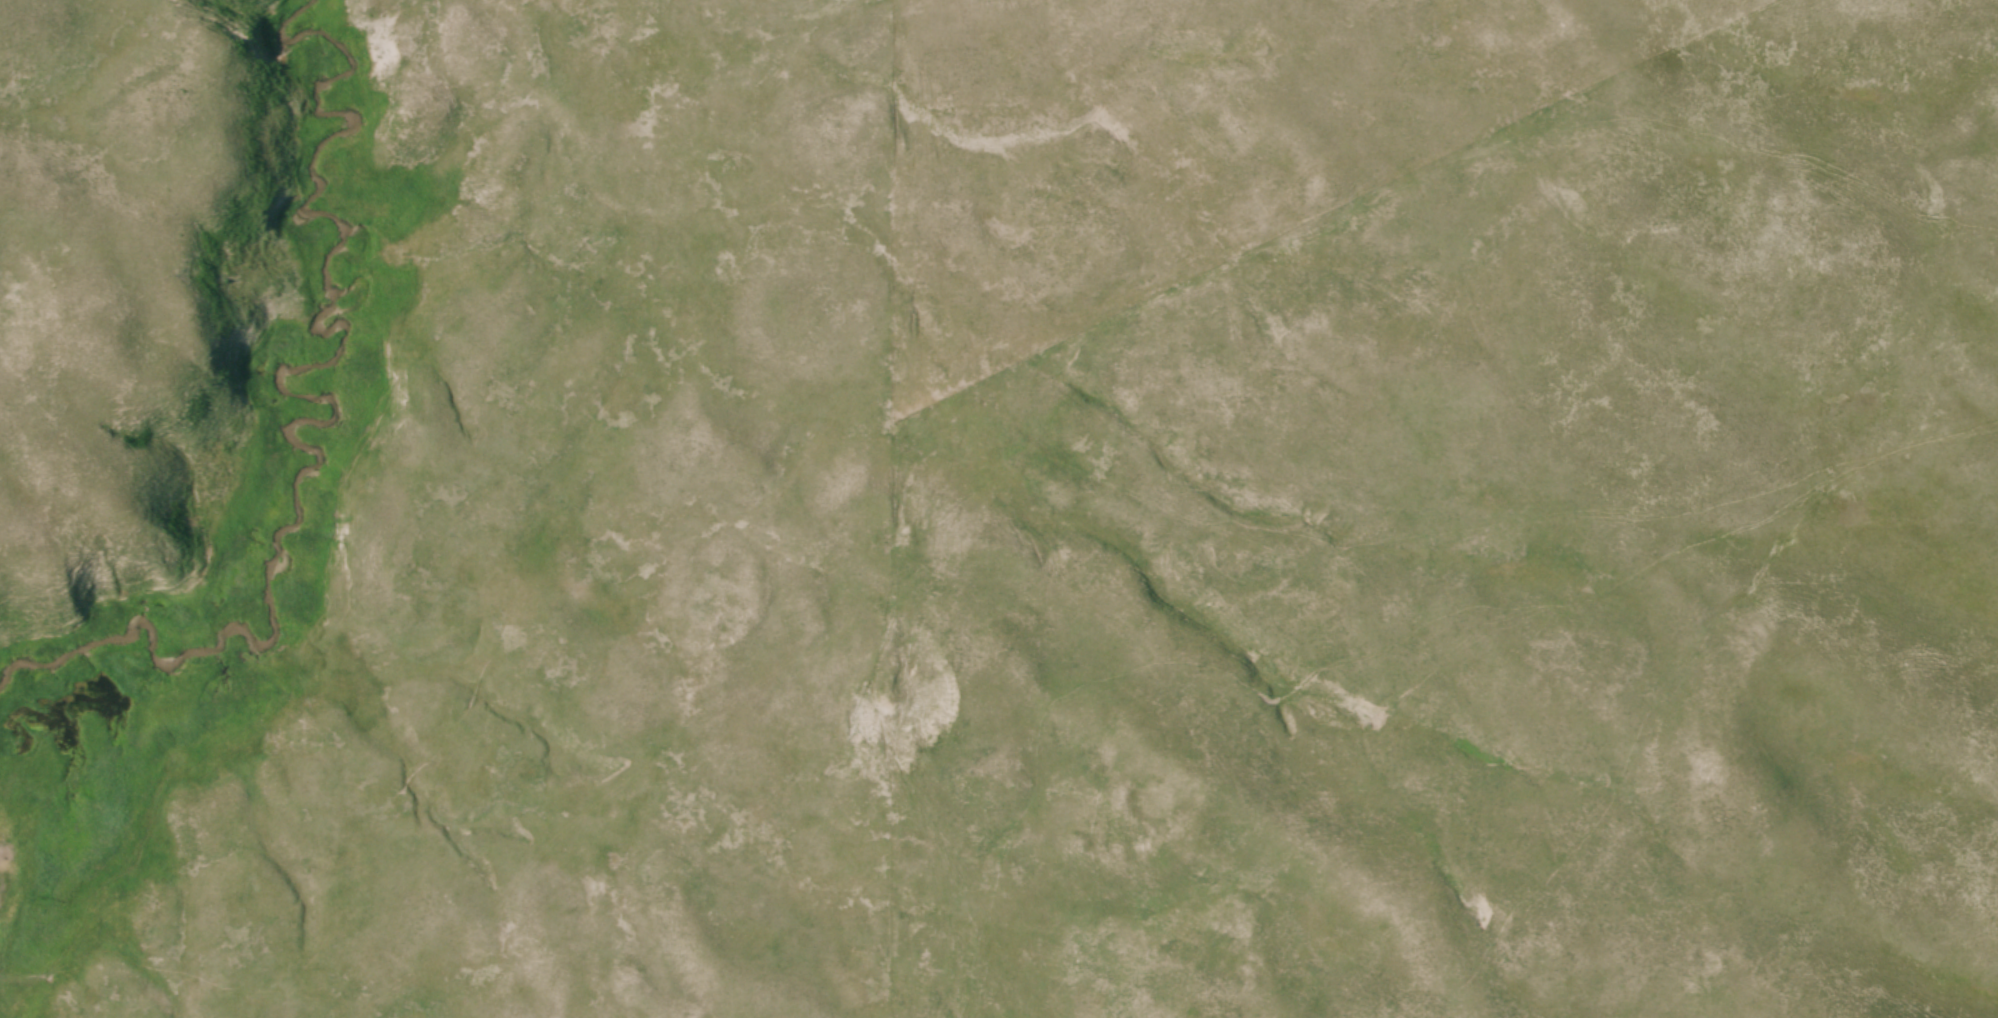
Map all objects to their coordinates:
river: (306, 480)

